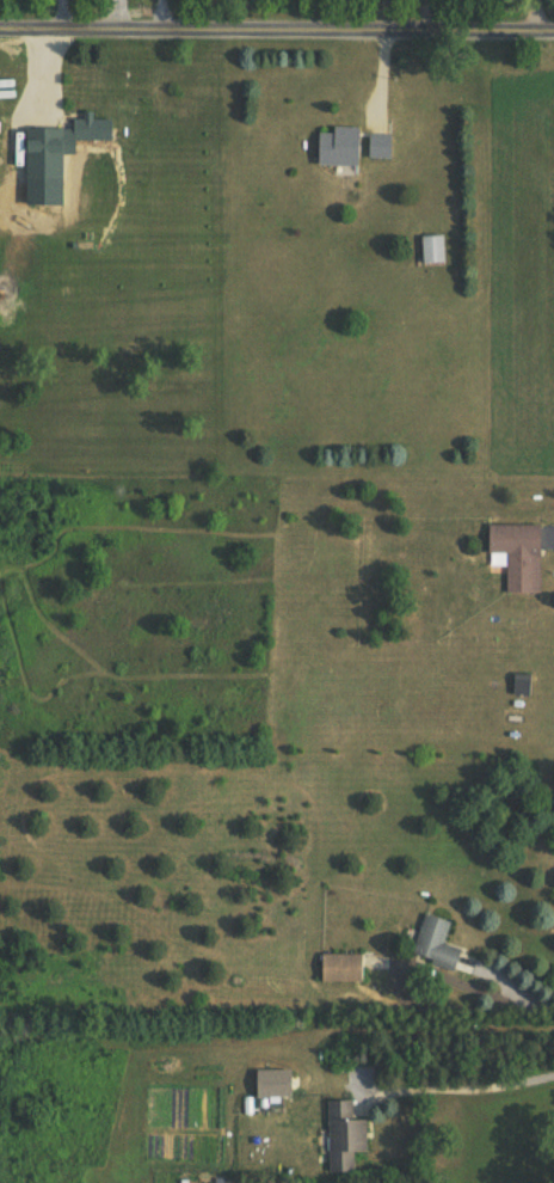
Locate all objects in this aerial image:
road: (63, 13)
road: (436, 13)
road: (537, 13)
road: (121, 17)
road: (165, 17)
road: (276, 31)
building: (94, 130)
building: (382, 146)
building: (343, 147)
building: (437, 250)
building: (7, 292)
building: (521, 556)
building: (438, 943)
building: (344, 968)
road: (509, 986)
building: (277, 1081)
road: (467, 1087)
building: (349, 1135)

